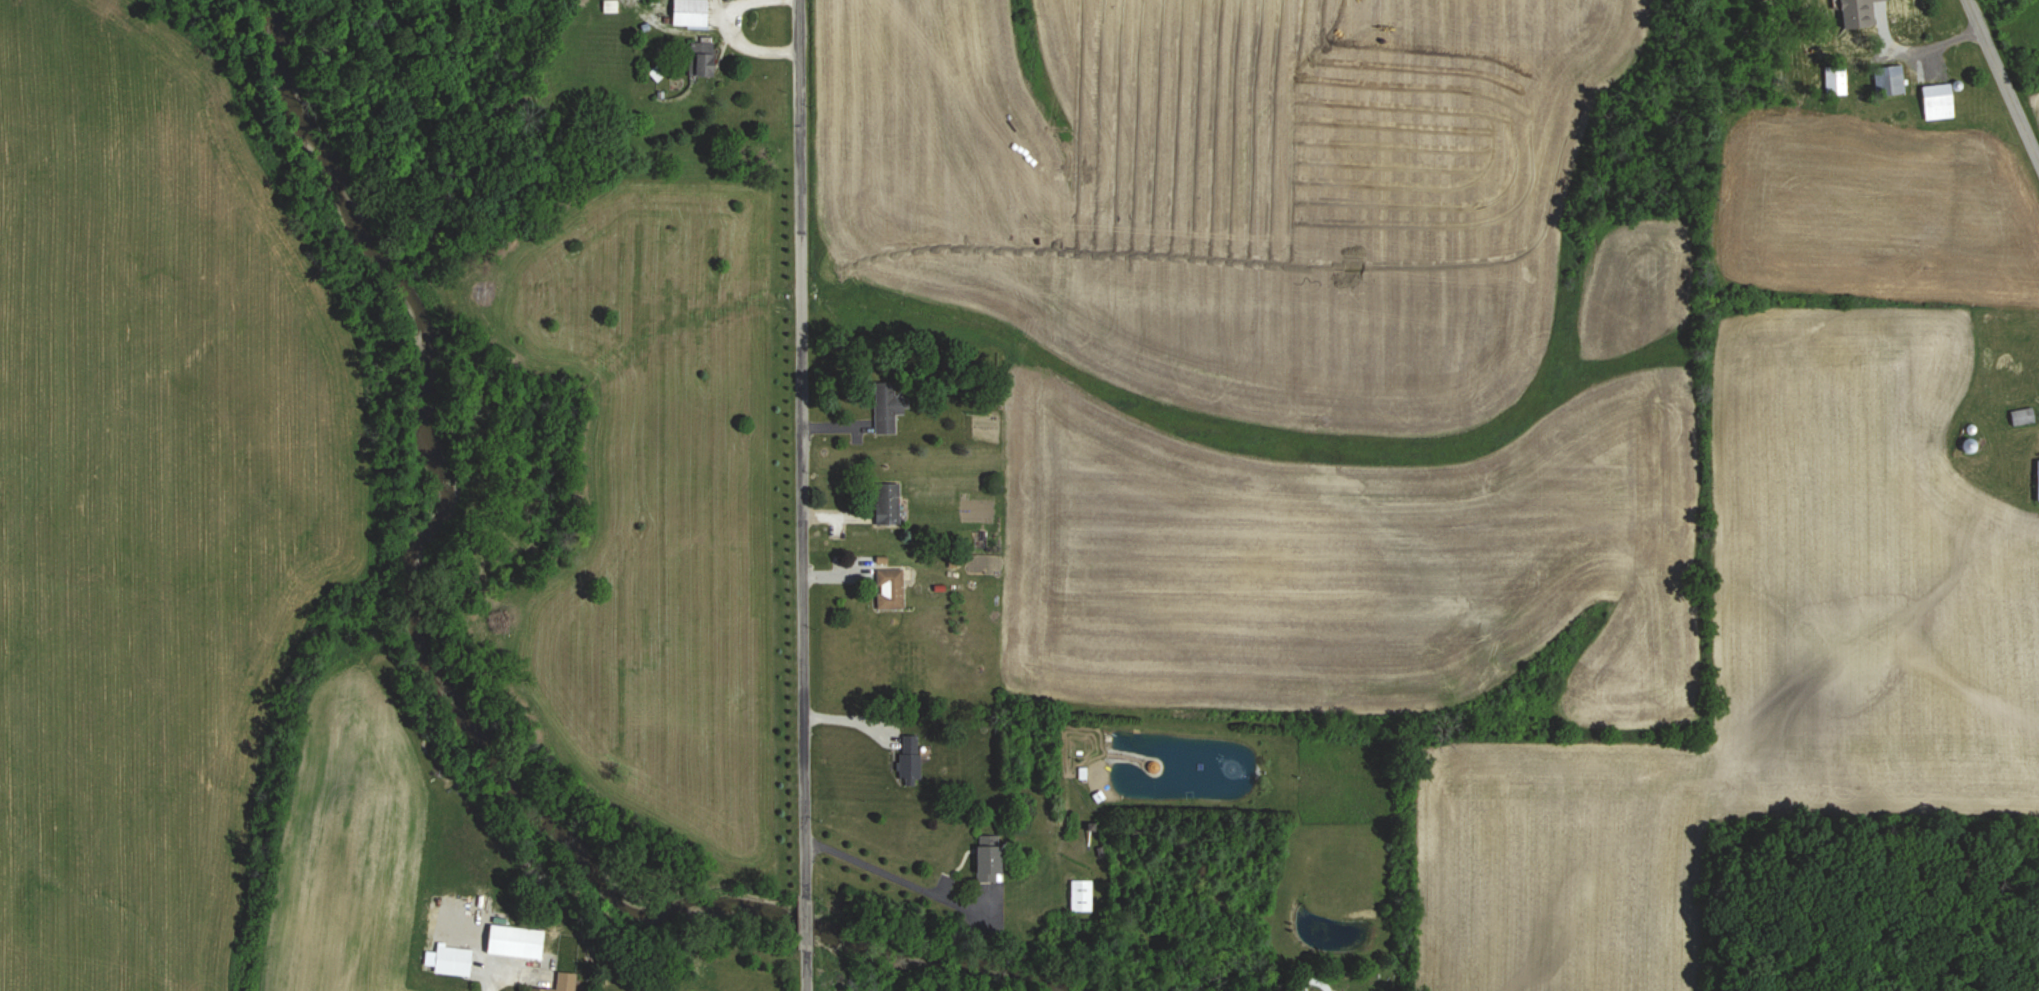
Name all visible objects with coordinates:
building: (1903, 7)
building: (690, 12)
road: (734, 35)
building: (701, 57)
building: (1836, 79)
building: (1890, 79)
road: (1999, 86)
building: (1938, 100)
building: (888, 406)
building: (2023, 415)
building: (1969, 444)
building: (2038, 479)
road: (798, 495)
building: (888, 502)
building: (890, 588)
building: (911, 758)
building: (988, 862)
road: (876, 876)
building: (1082, 895)
building: (514, 941)
building: (453, 960)
road: (489, 978)
building: (562, 983)

